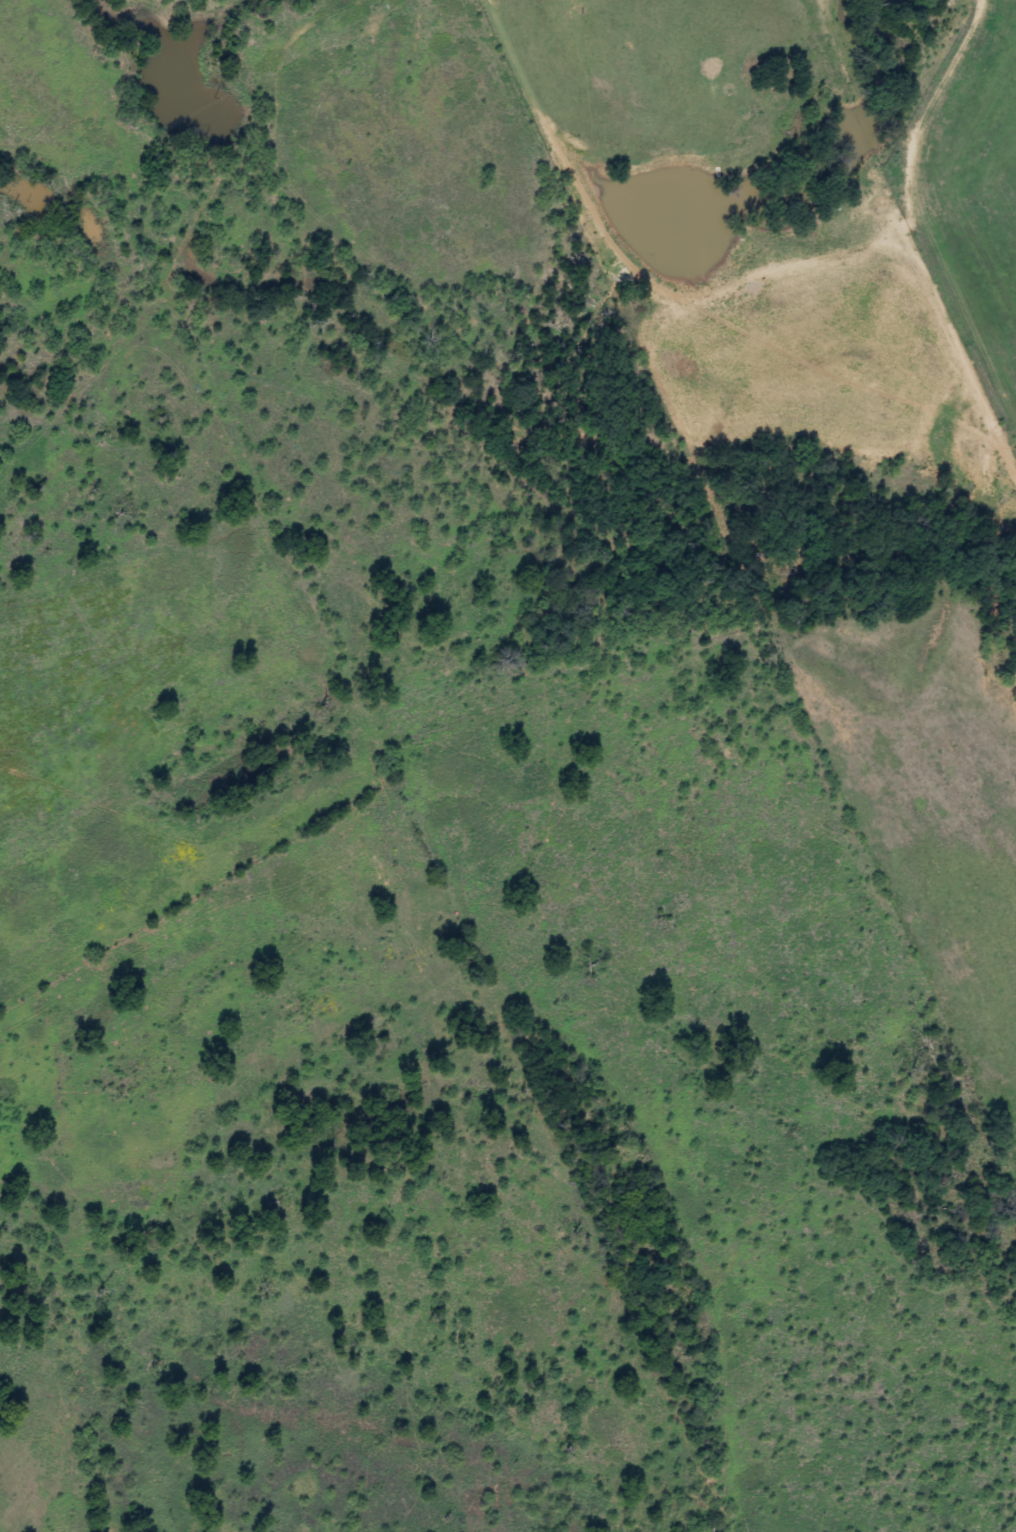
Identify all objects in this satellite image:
road: (326, 376)

